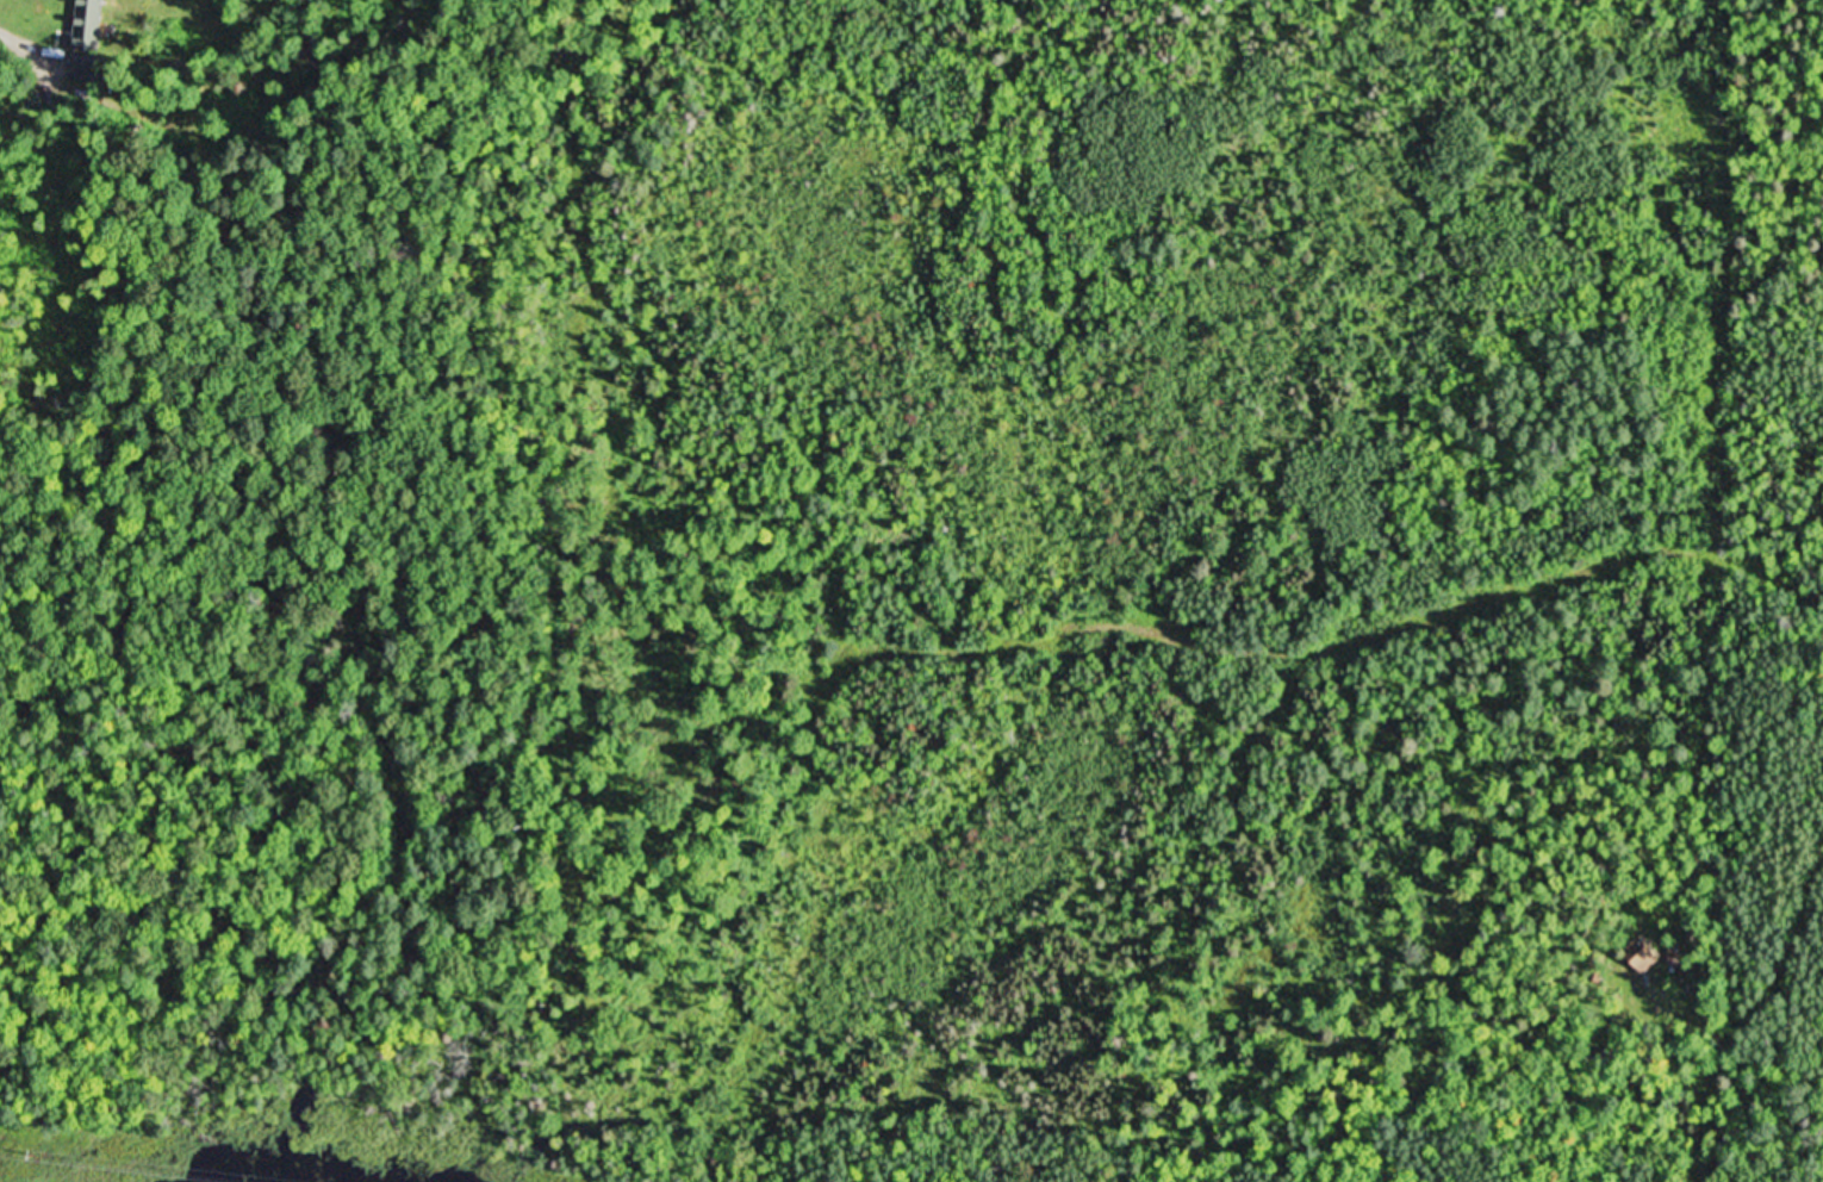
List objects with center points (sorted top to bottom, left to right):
building: (86, 24)
road: (13, 43)
road: (1769, 1026)
power tower: (31, 1151)

